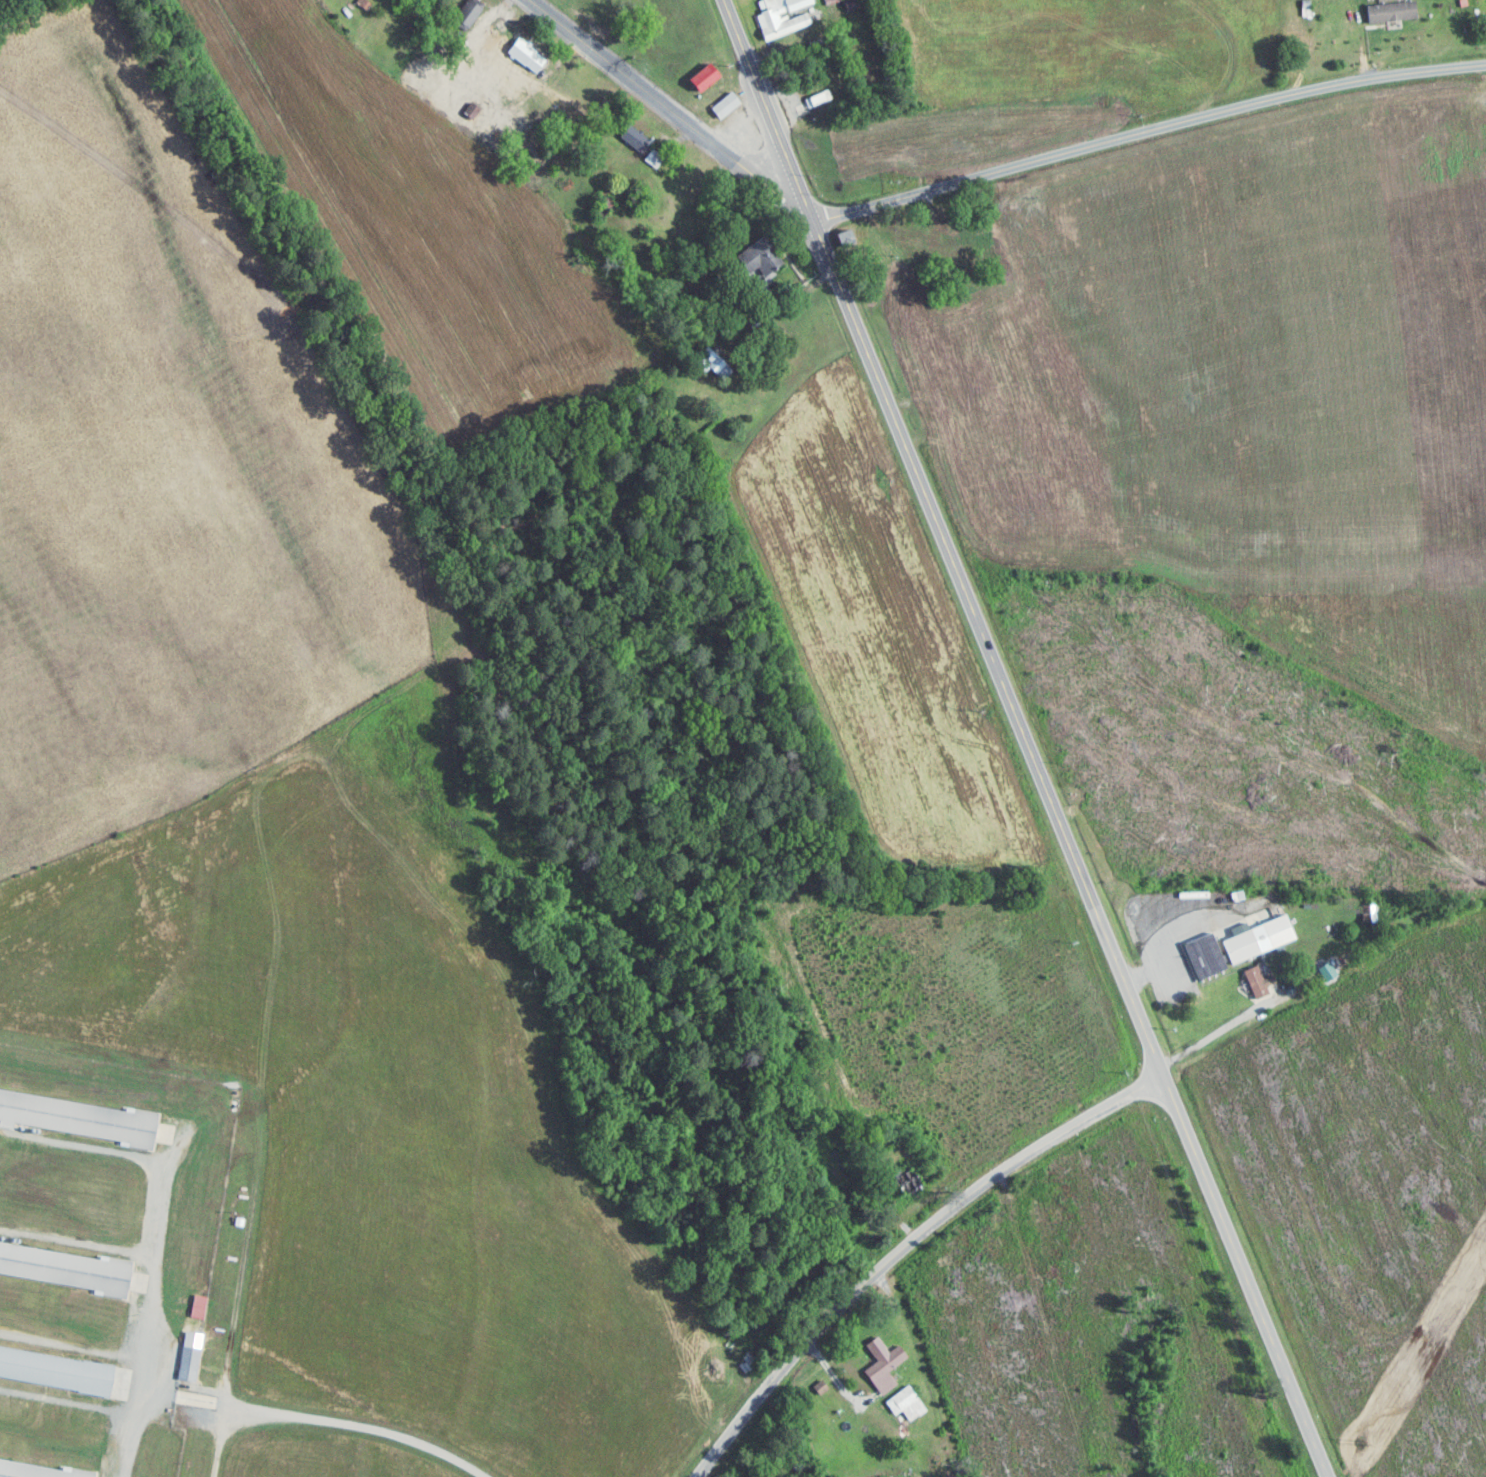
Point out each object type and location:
building: (829, 1)
building: (361, 3)
building: (849, 3)
building: (4, 6)
building: (466, 13)
road: (488, 13)
building: (1388, 14)
building: (780, 16)
building: (814, 43)
road: (781, 46)
crop: (1057, 52)
building: (525, 54)
building: (797, 54)
road: (558, 57)
building: (702, 78)
building: (817, 99)
parking lot: (782, 107)
road: (668, 109)
road: (1145, 132)
building: (632, 136)
road: (670, 137)
building: (653, 158)
building: (602, 206)
crop: (427, 230)
building: (759, 256)
road: (805, 292)
building: (711, 363)
crop: (1294, 378)
building: (939, 408)
road: (891, 418)
crop: (876, 632)
building: (1236, 948)
building: (1200, 958)
building: (80, 1119)
road: (1190, 1158)
building: (905, 1184)
road: (900, 1249)
building: (67, 1268)
building: (195, 1354)
building: (881, 1367)
building: (64, 1371)
building: (905, 1406)
road: (367, 1423)
building: (40, 1470)

